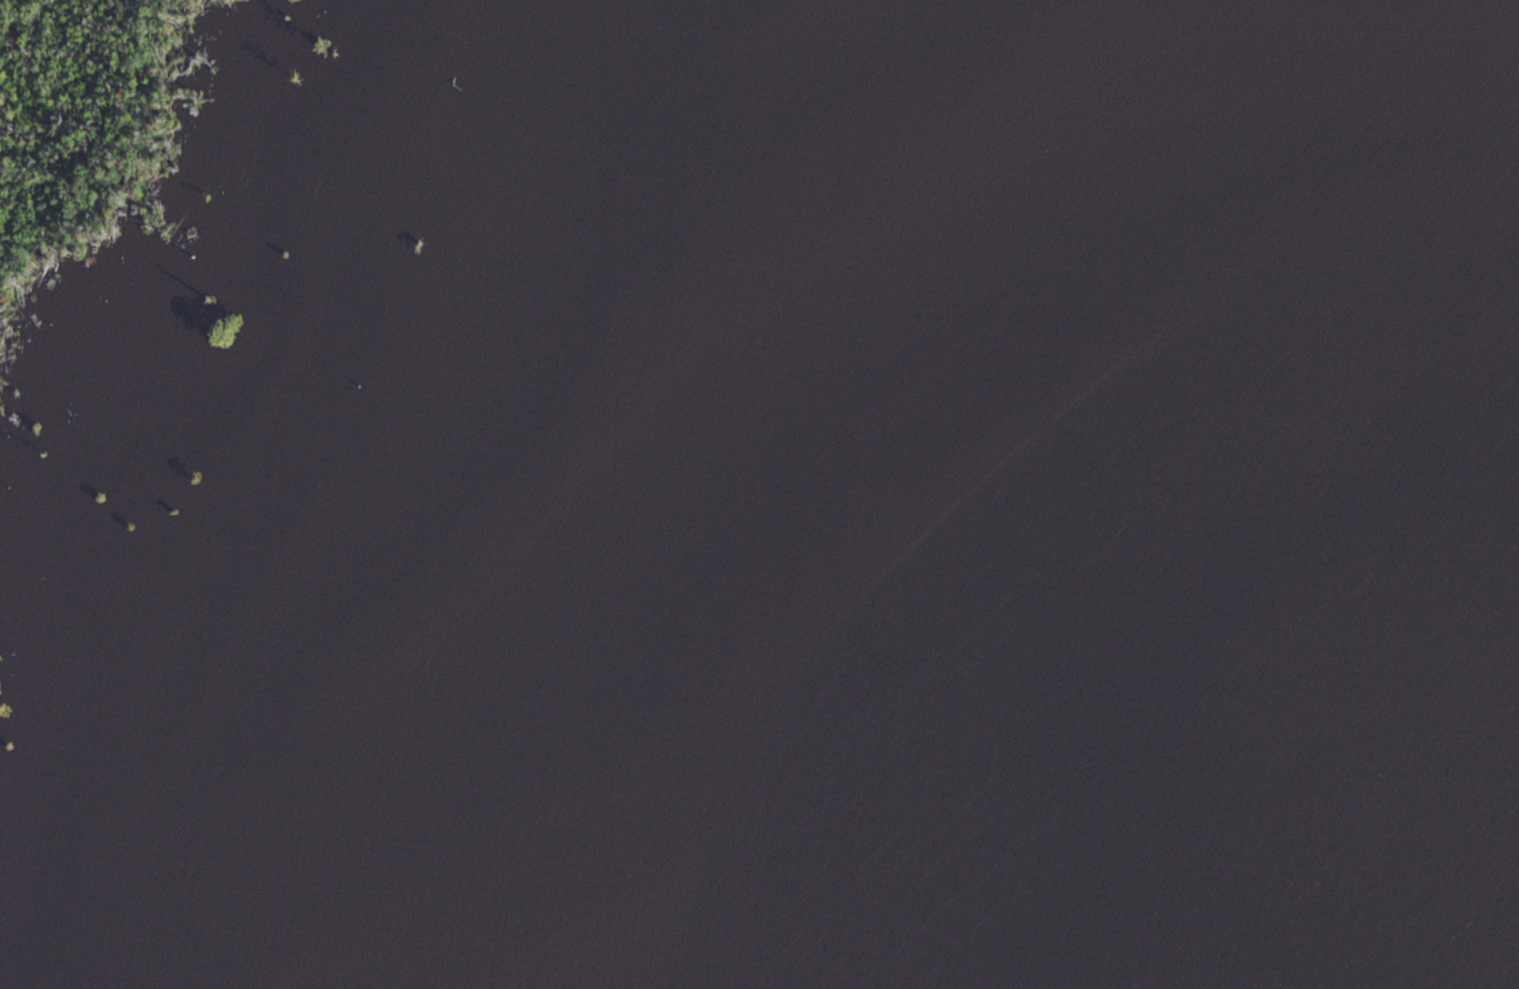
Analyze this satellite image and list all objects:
river: (1338, 494)

